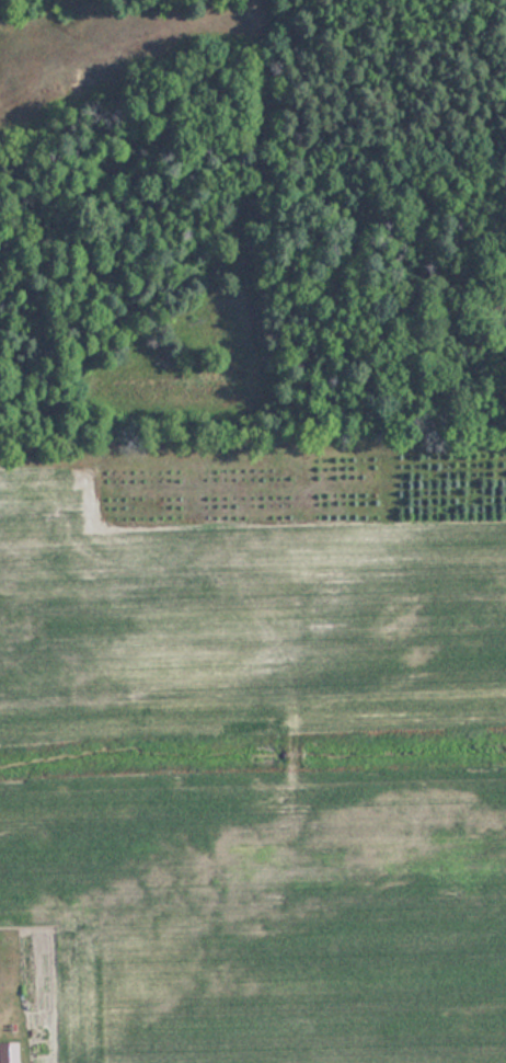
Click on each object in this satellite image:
building: (12, 1052)

